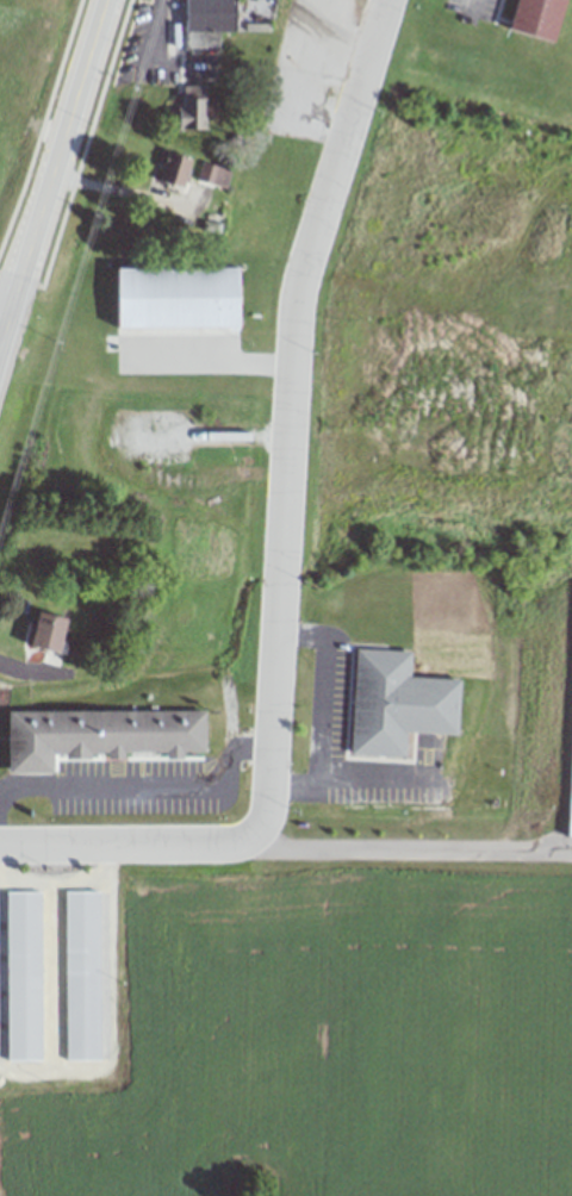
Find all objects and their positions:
parking lot: (157, 0)
road: (471, 4)
parking lot: (473, 7)
building: (537, 17)
building: (210, 21)
road: (504, 26)
road: (148, 37)
parking lot: (157, 54)
road: (209, 57)
parking lot: (309, 67)
building: (193, 108)
road: (42, 125)
road: (61, 139)
road: (85, 147)
building: (175, 168)
building: (216, 174)
road: (18, 279)
road: (8, 309)
road: (0, 334)
road: (288, 541)
building: (54, 631)
building: (399, 703)
building: (101, 735)
road: (408, 845)
building: (24, 974)
building: (81, 974)

